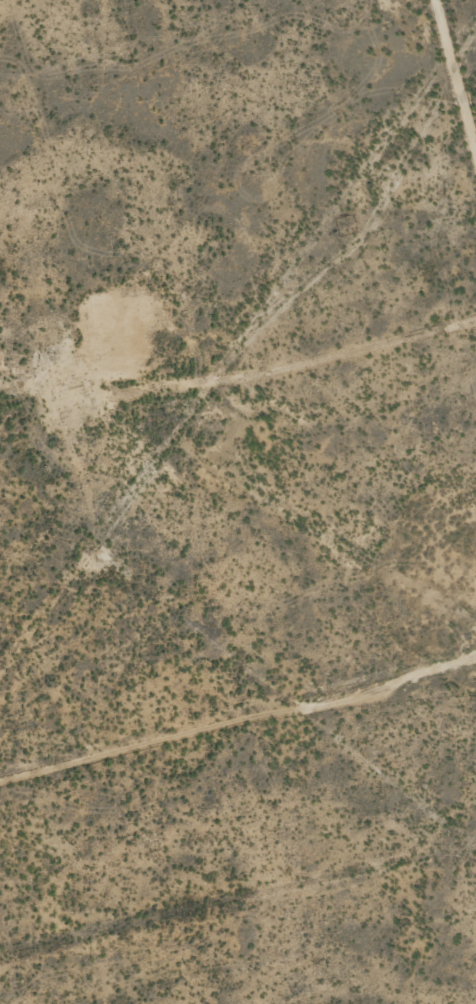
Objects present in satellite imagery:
road: (179, 48)

